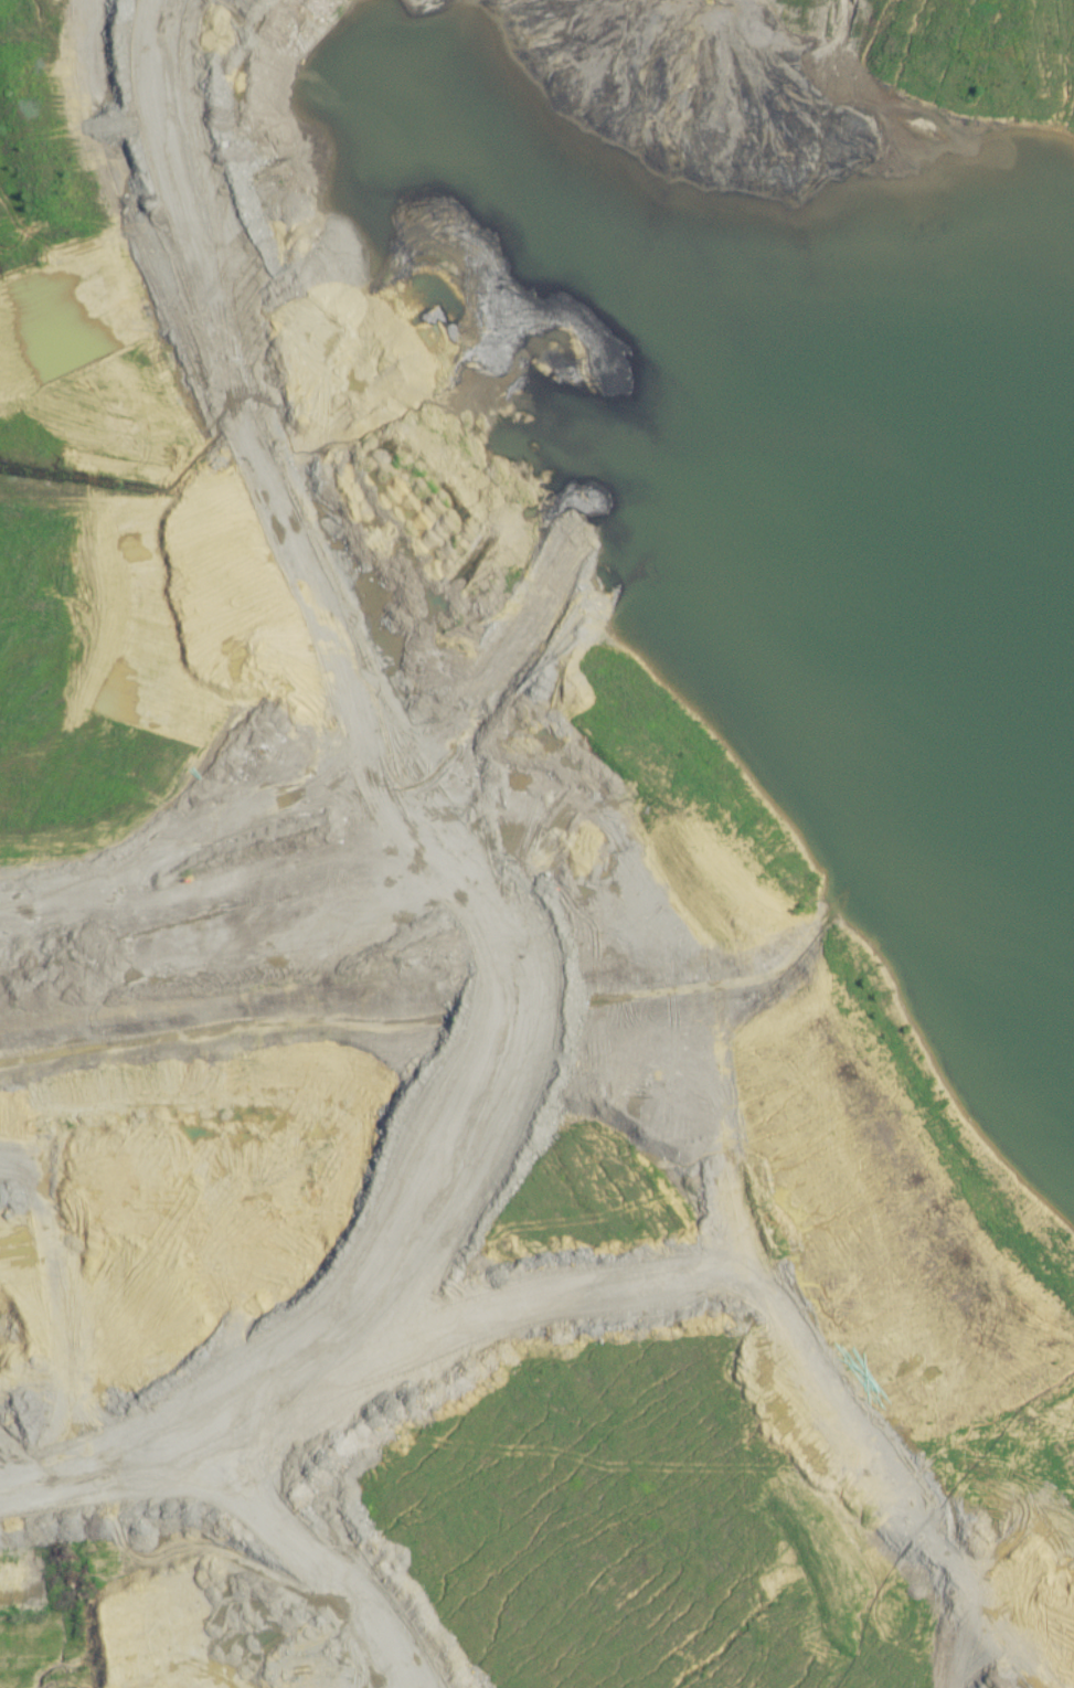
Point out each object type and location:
quarry: (549, 820)

